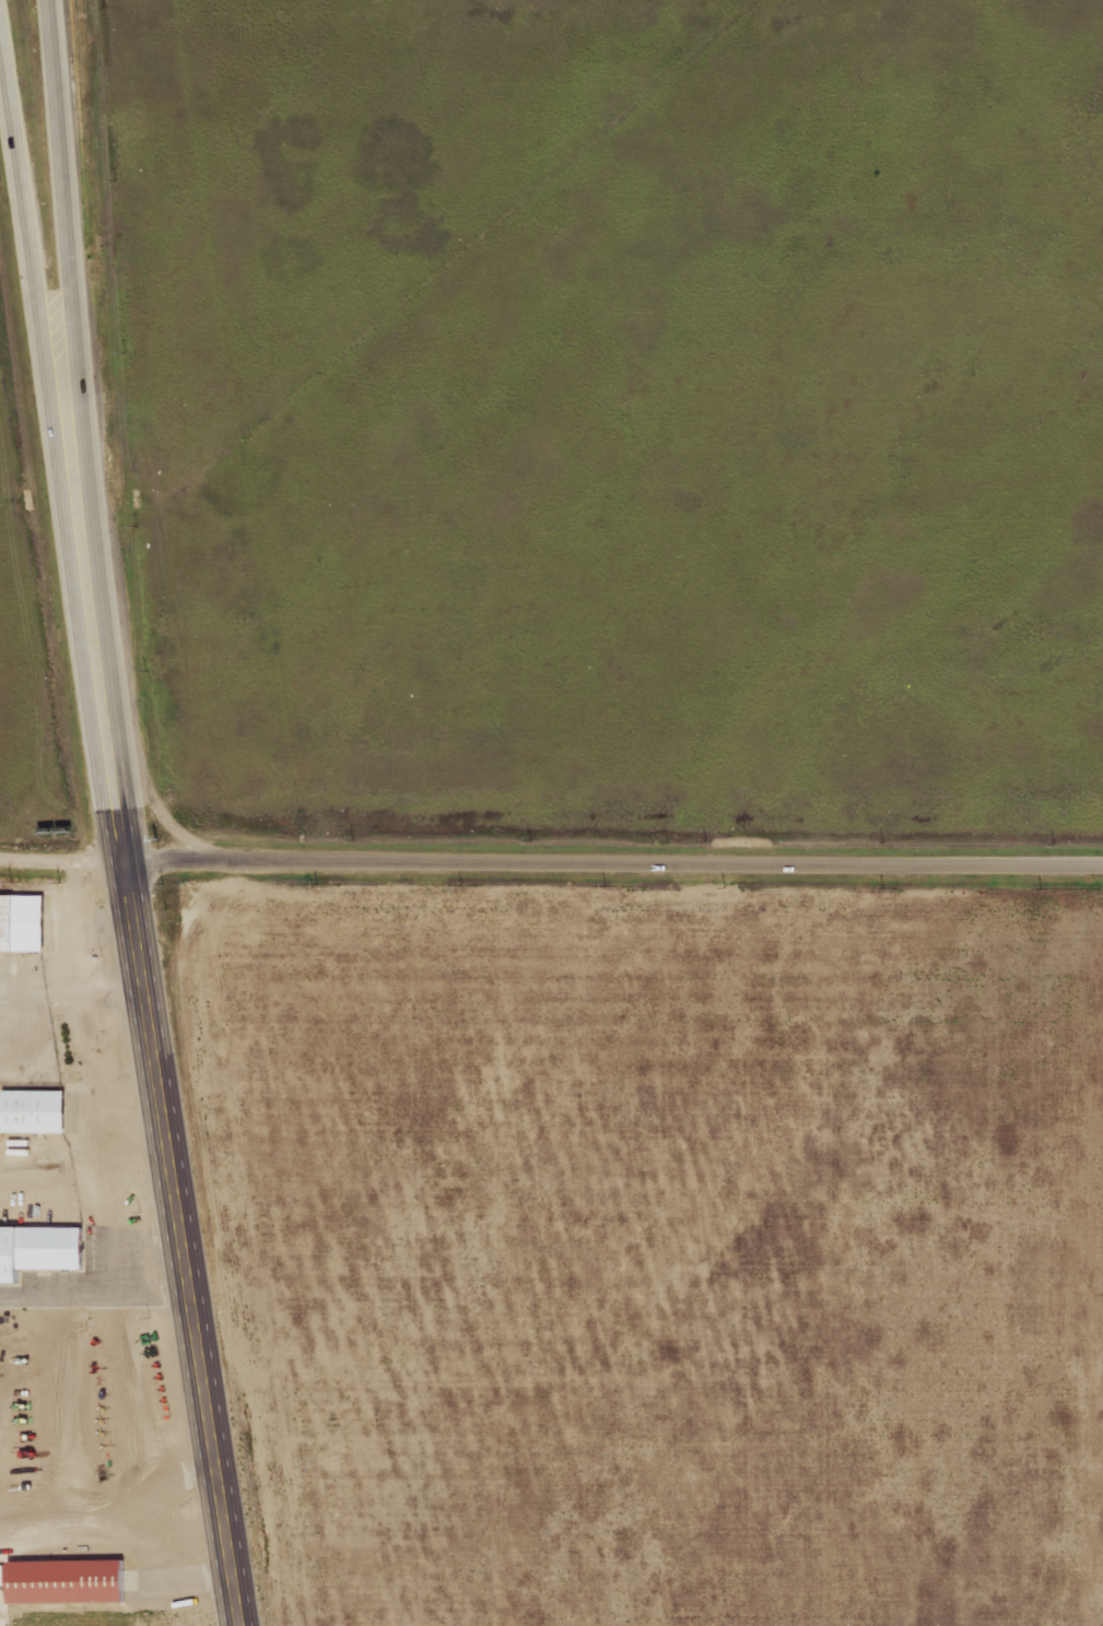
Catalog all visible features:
road: (61, 210)
road: (26, 235)
road: (61, 857)
road: (612, 862)
building: (22, 921)
road: (146, 1023)
building: (31, 1110)
building: (38, 1248)
building: (68, 1580)

